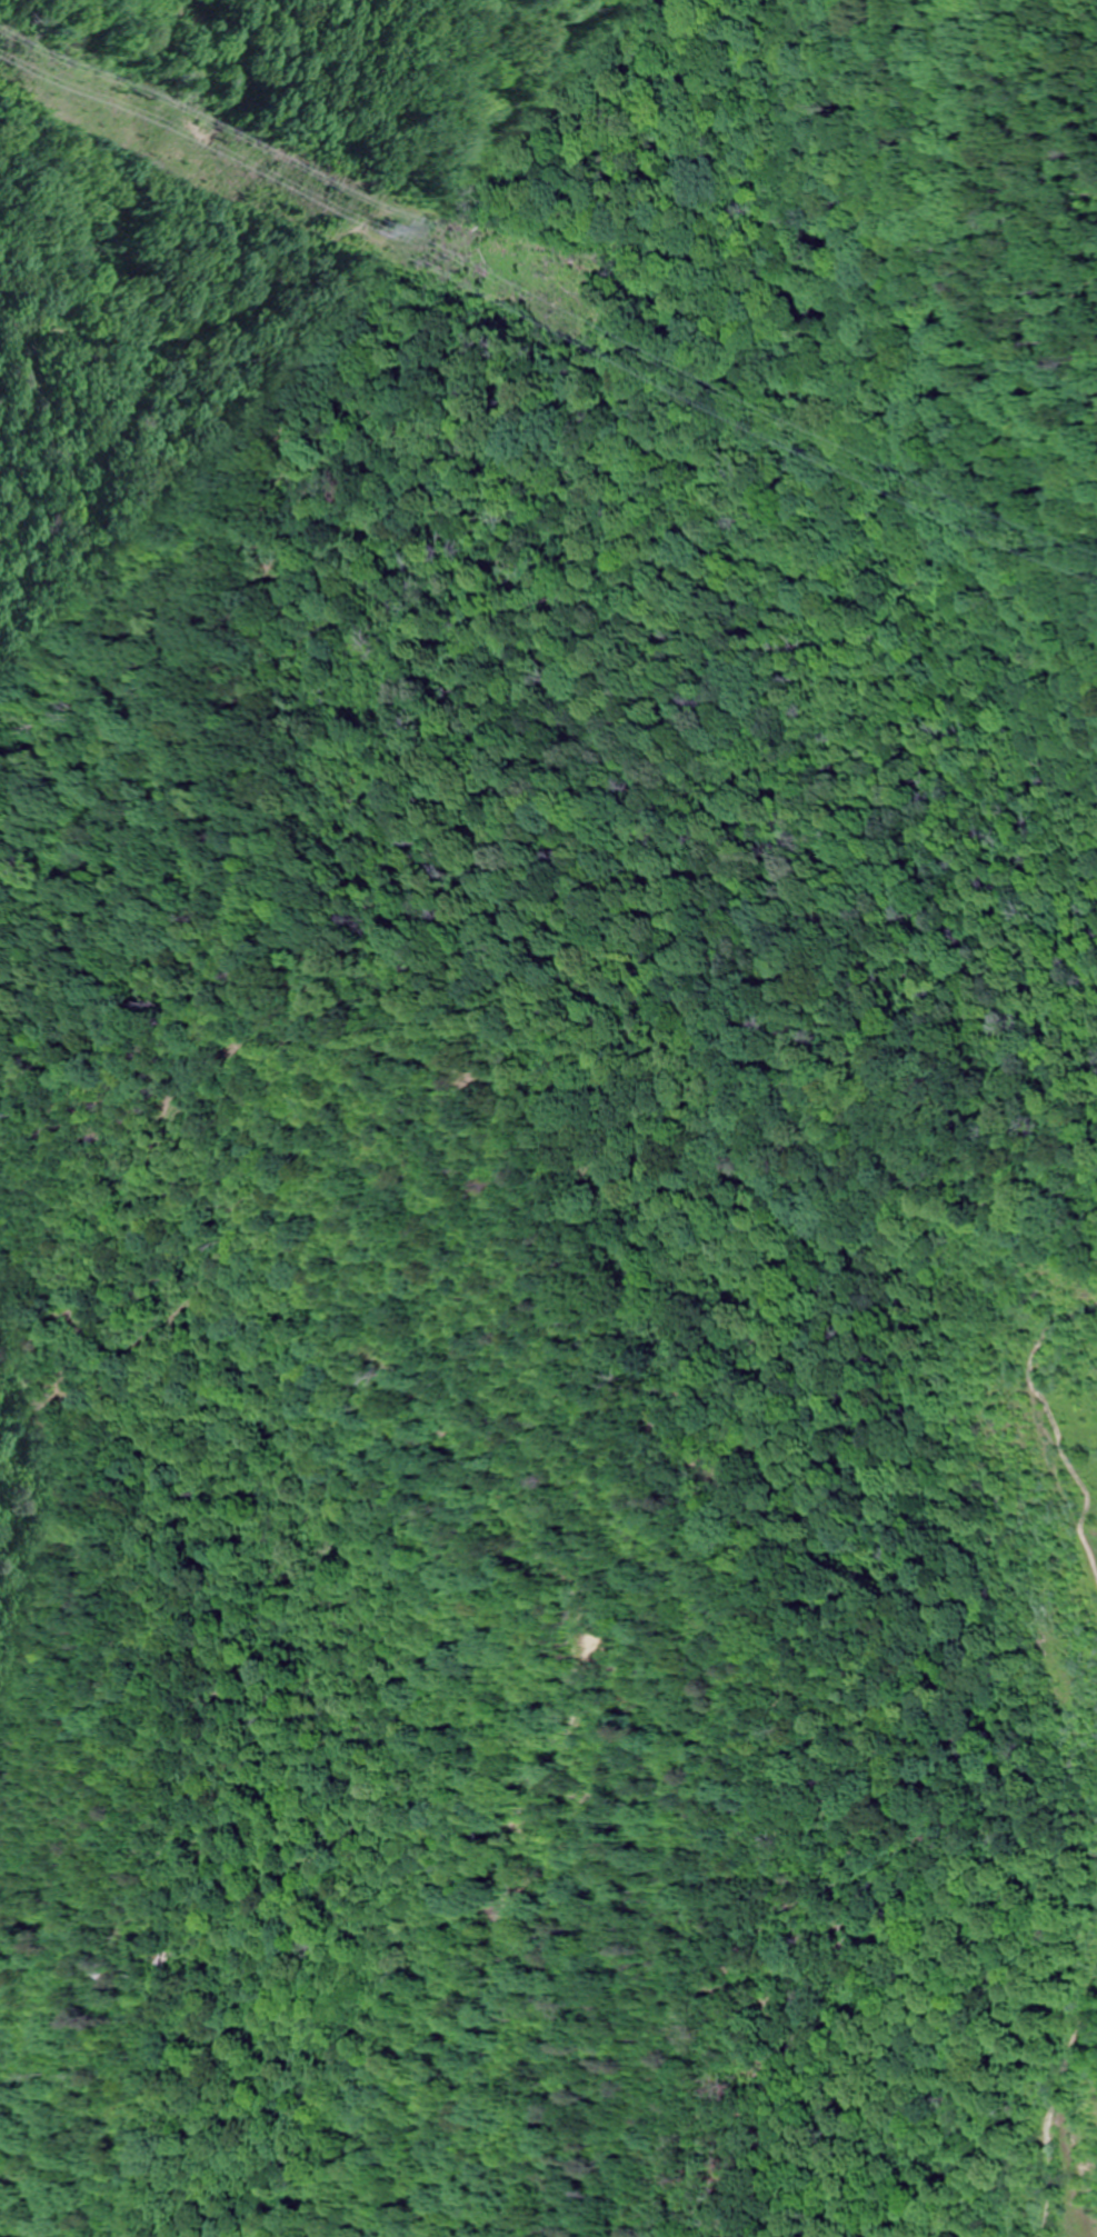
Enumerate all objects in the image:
power tower: (393, 230)
road: (1009, 1089)
road: (519, 1621)
road: (1077, 2125)

